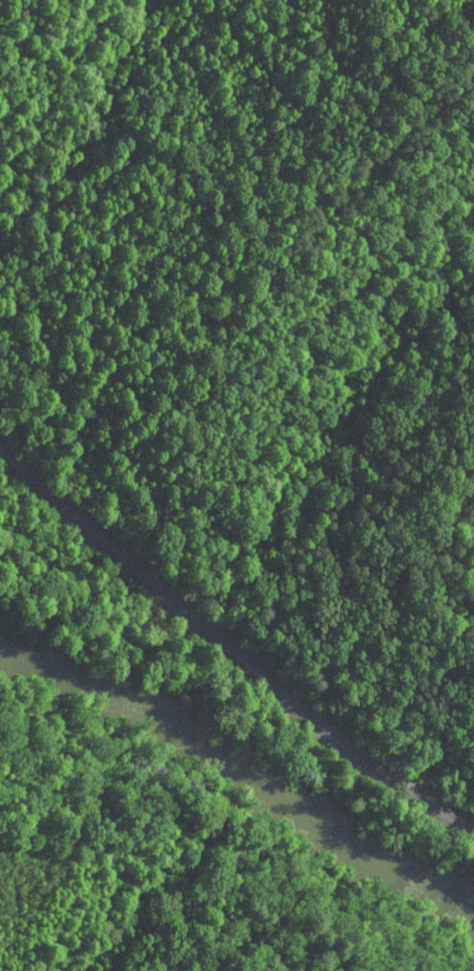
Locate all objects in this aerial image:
railway: (228, 649)
river: (244, 771)

